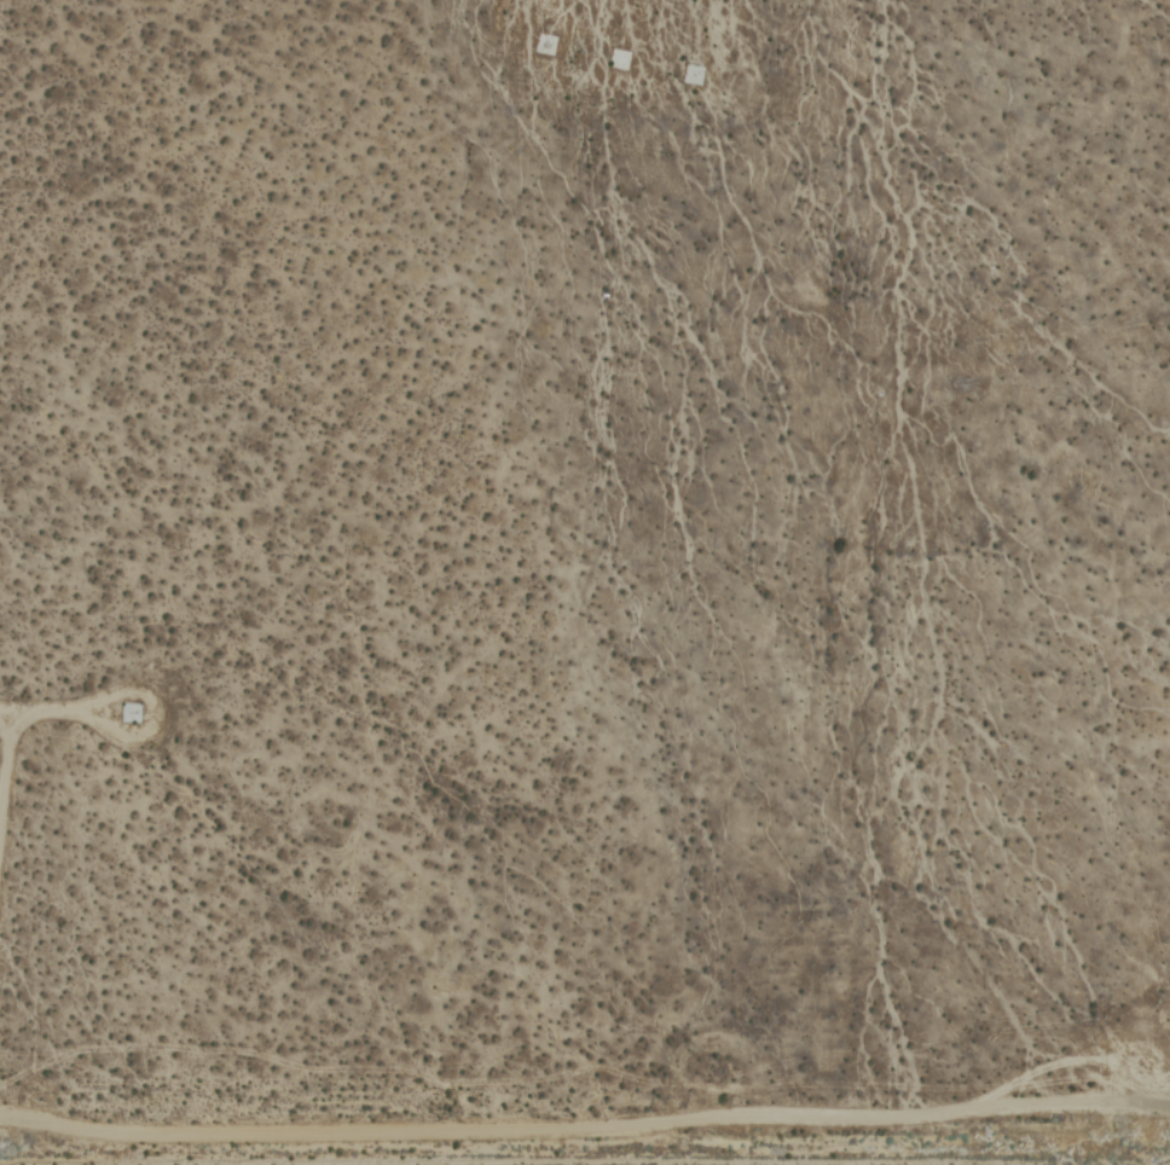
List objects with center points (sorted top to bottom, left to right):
airport: (585, 582)
road: (1152, 1015)
road: (583, 1131)

